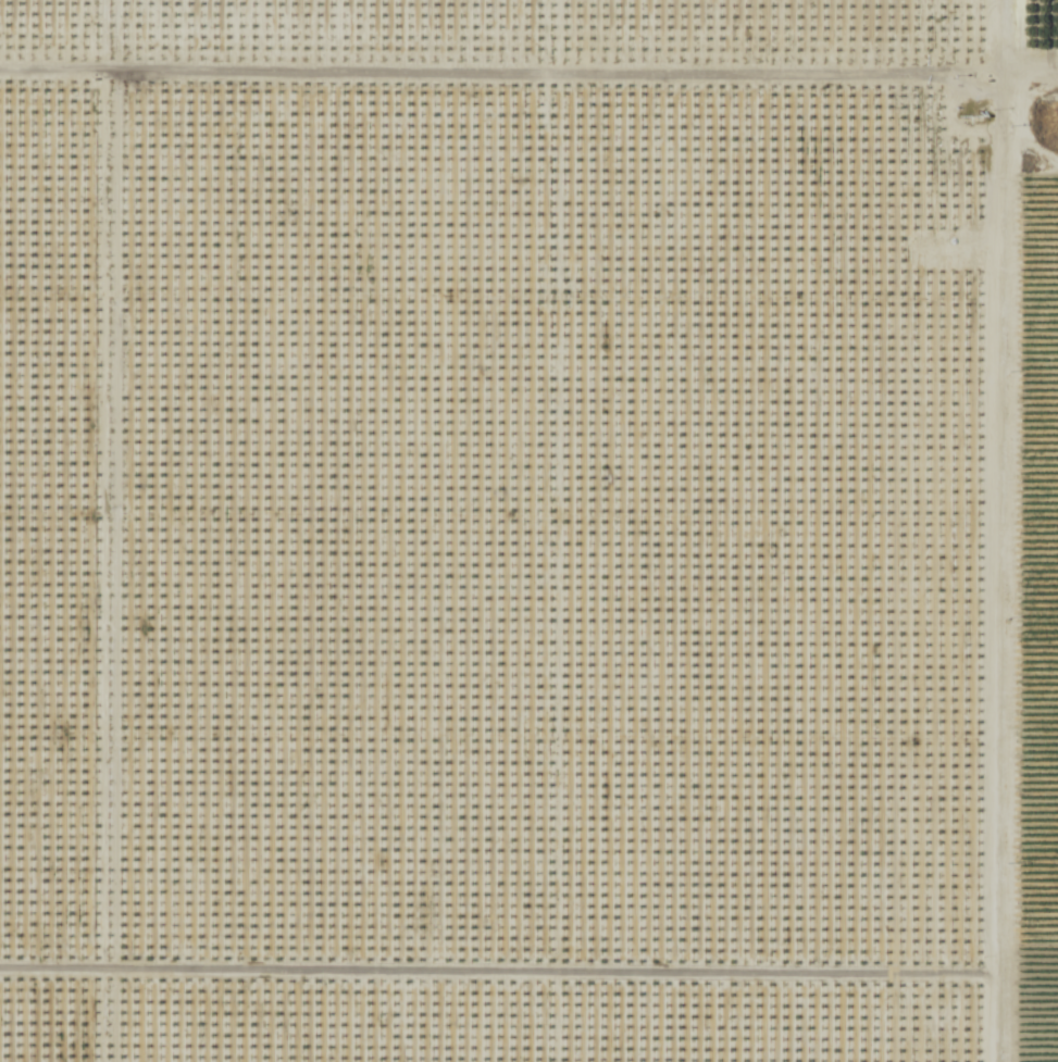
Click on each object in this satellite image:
road: (1031, 61)
road: (501, 77)
road: (989, 530)
road: (103, 570)
road: (495, 976)

